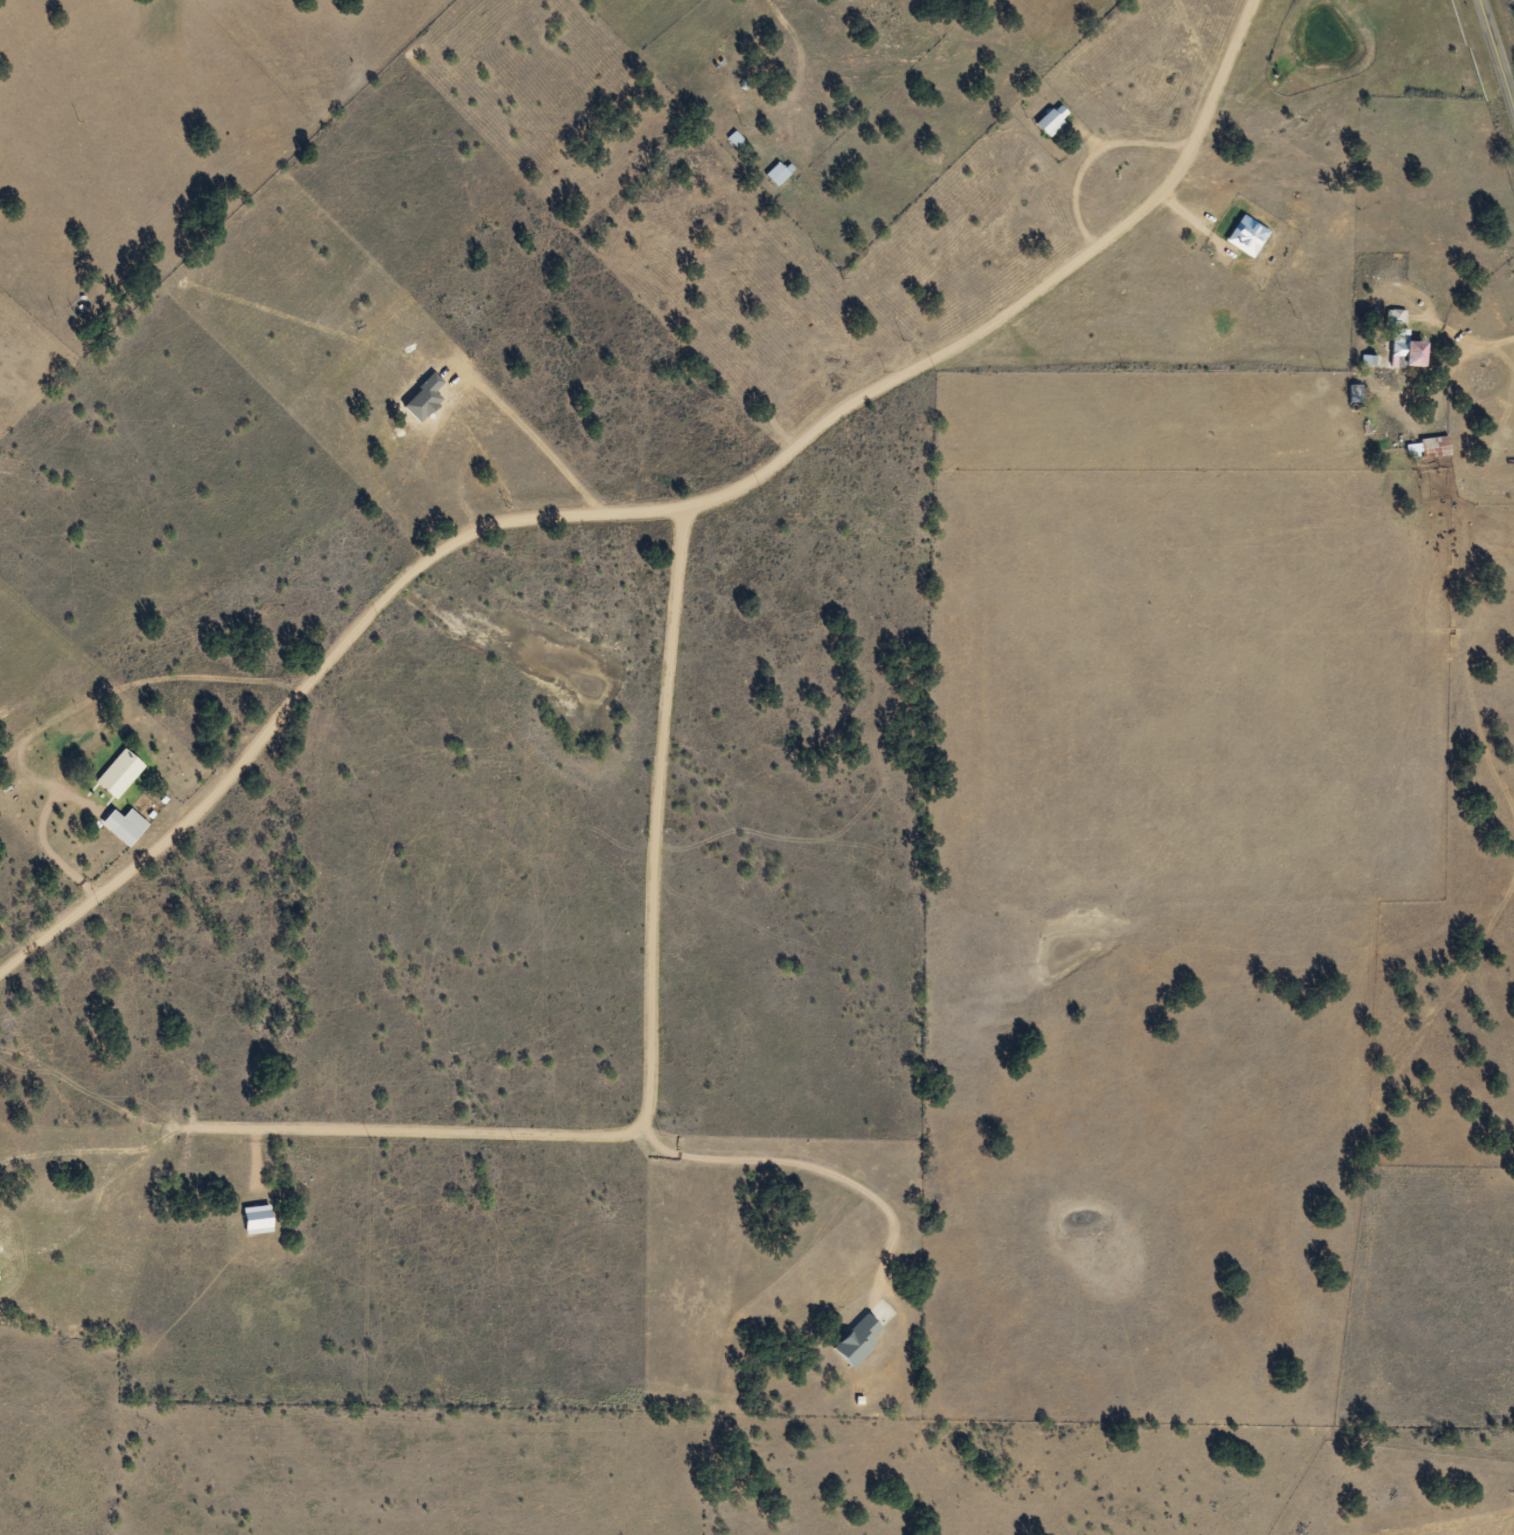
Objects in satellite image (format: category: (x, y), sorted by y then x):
road: (1497, 53)
building: (735, 140)
building: (777, 174)
building: (1401, 343)
building: (1354, 394)
building: (1433, 447)
road: (689, 514)
road: (112, 705)
building: (118, 774)
building: (123, 826)

